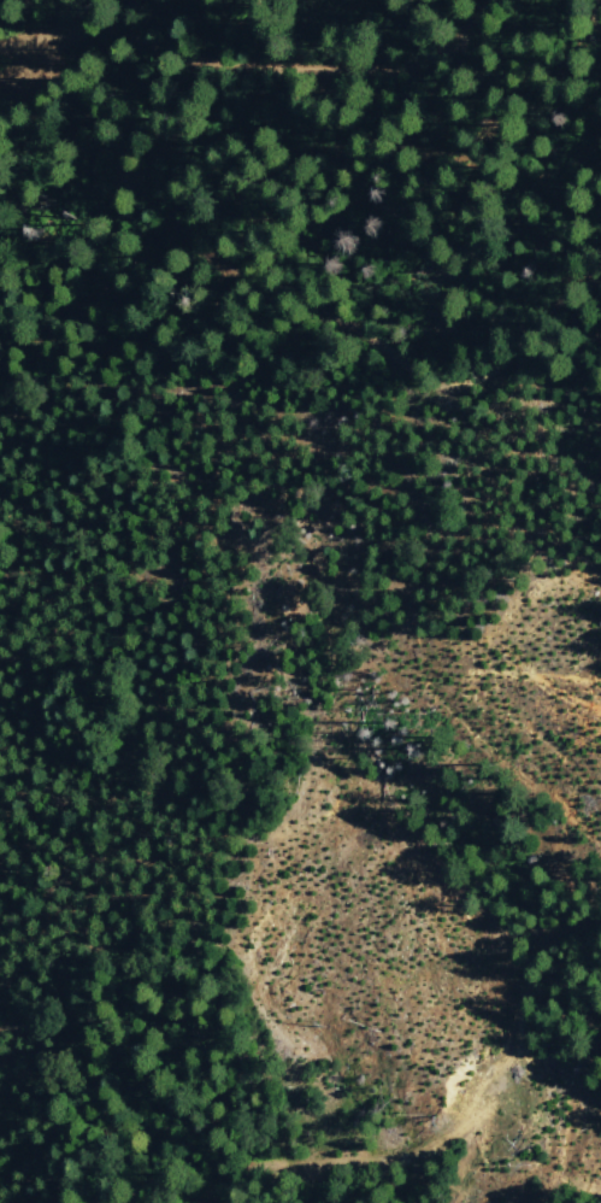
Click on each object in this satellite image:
road: (251, 70)
road: (293, 264)

